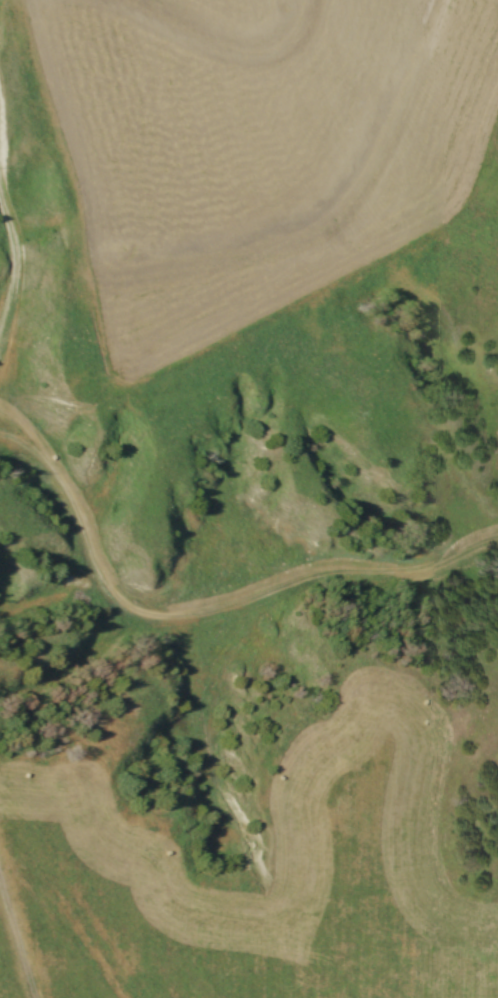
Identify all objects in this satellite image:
road: (18, 938)

